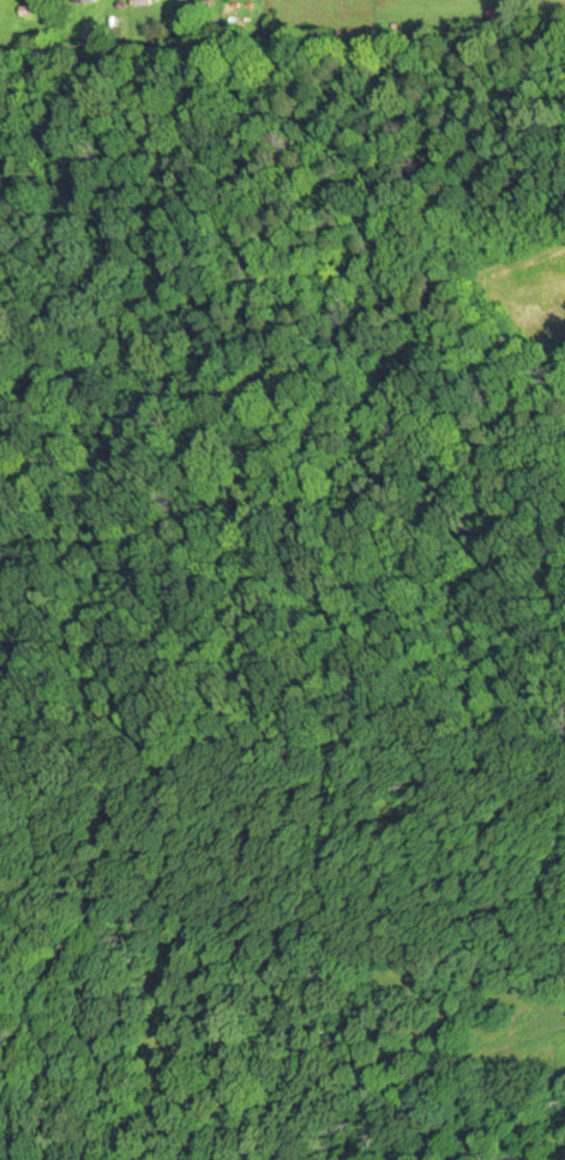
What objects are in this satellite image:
building: (88, 1)

